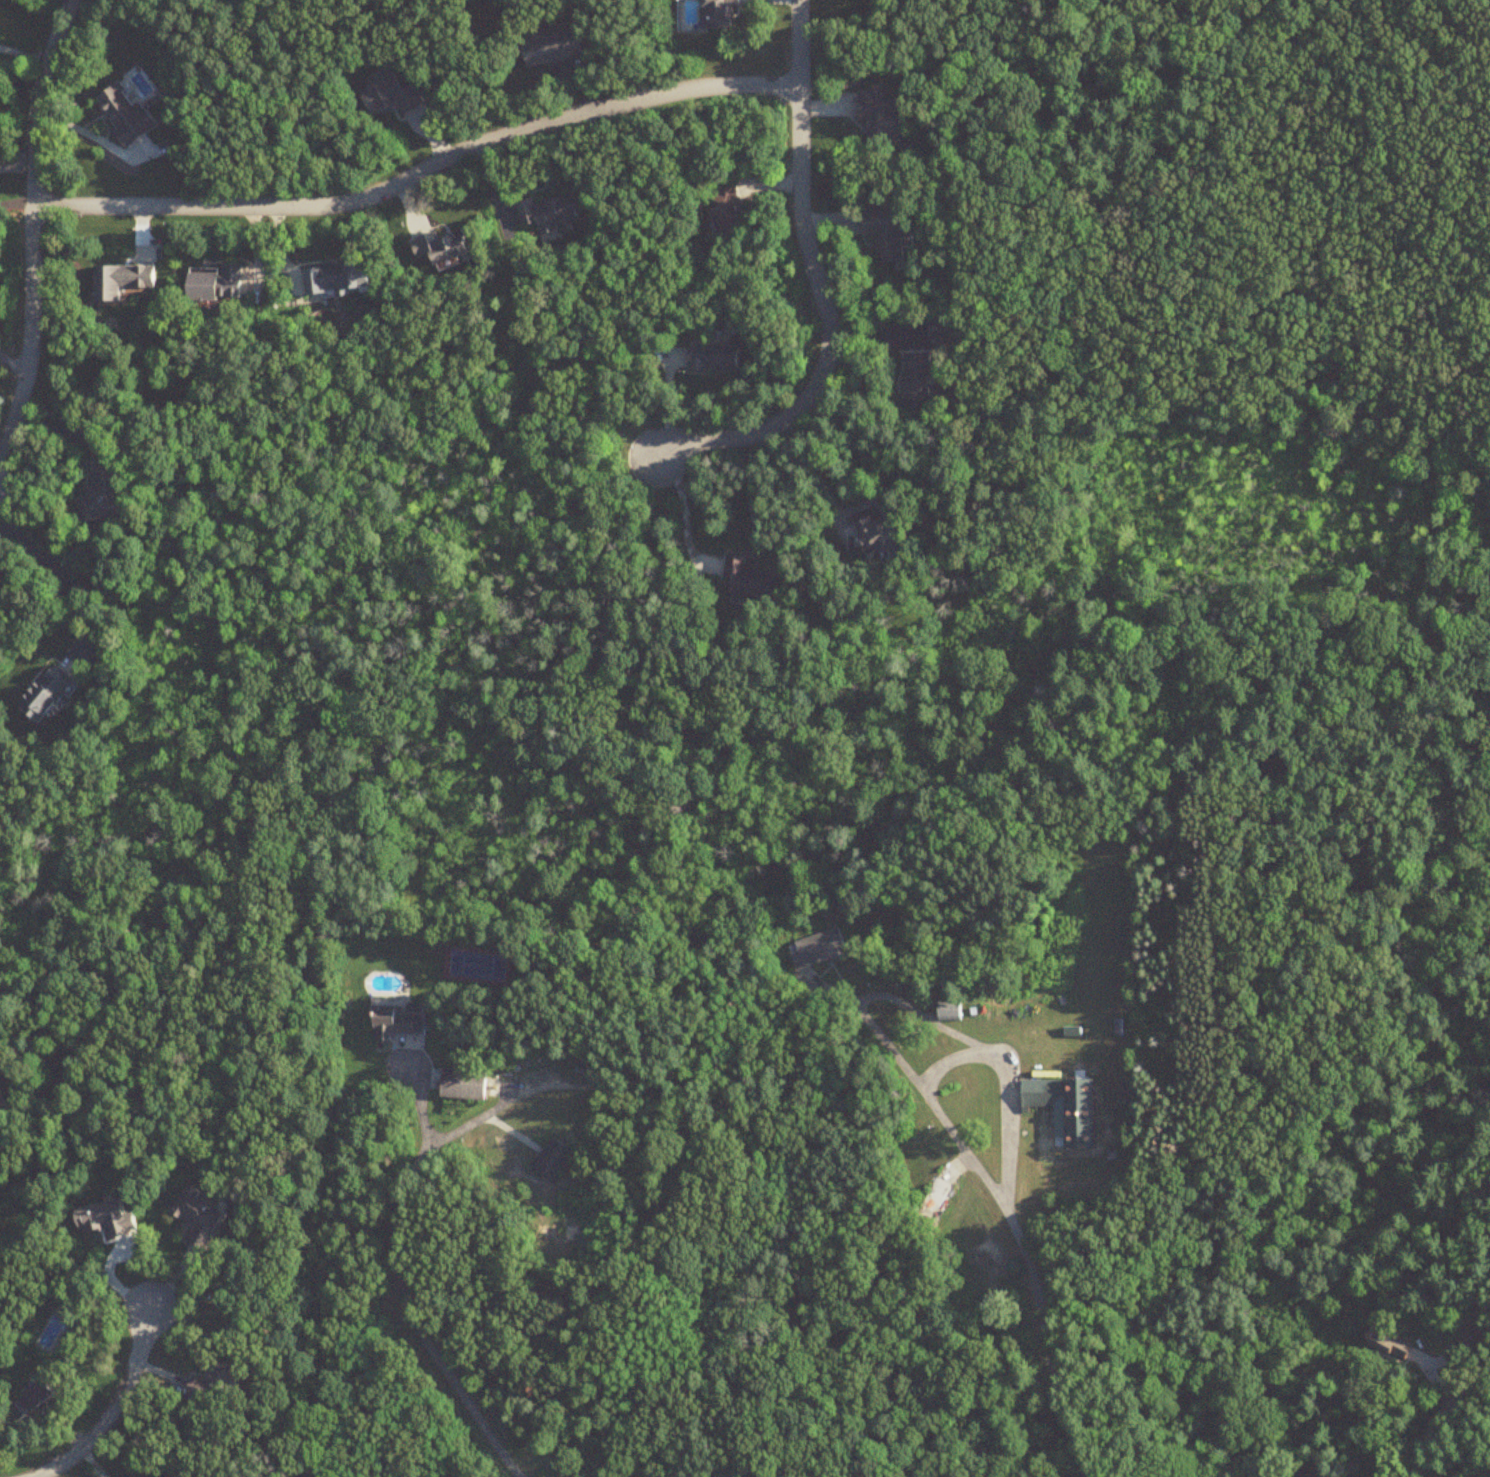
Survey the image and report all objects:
road: (799, 8)
building: (721, 14)
building: (554, 46)
building: (392, 95)
building: (128, 114)
building: (883, 117)
road: (14, 165)
road: (419, 173)
road: (14, 197)
building: (731, 211)
building: (551, 213)
road: (29, 229)
building: (886, 233)
building: (445, 247)
building: (344, 276)
building: (124, 280)
building: (221, 284)
road: (818, 289)
building: (939, 330)
building: (715, 357)
building: (919, 376)
building: (106, 492)
road: (869, 501)
road: (684, 506)
building: (883, 534)
road: (65, 578)
building: (750, 579)
building: (48, 694)
building: (817, 949)
building: (947, 1011)
building: (399, 1020)
building: (1070, 1031)
building: (466, 1086)
road: (1005, 1087)
building: (1043, 1093)
building: (2, 1099)
building: (551, 1160)
building: (931, 1205)
building: (202, 1218)
road: (1013, 1230)
road: (397, 1271)
building: (242, 1292)
building: (1377, 1340)
building: (218, 1384)
building: (43, 1395)
road: (113, 1410)
road: (1442, 1424)

